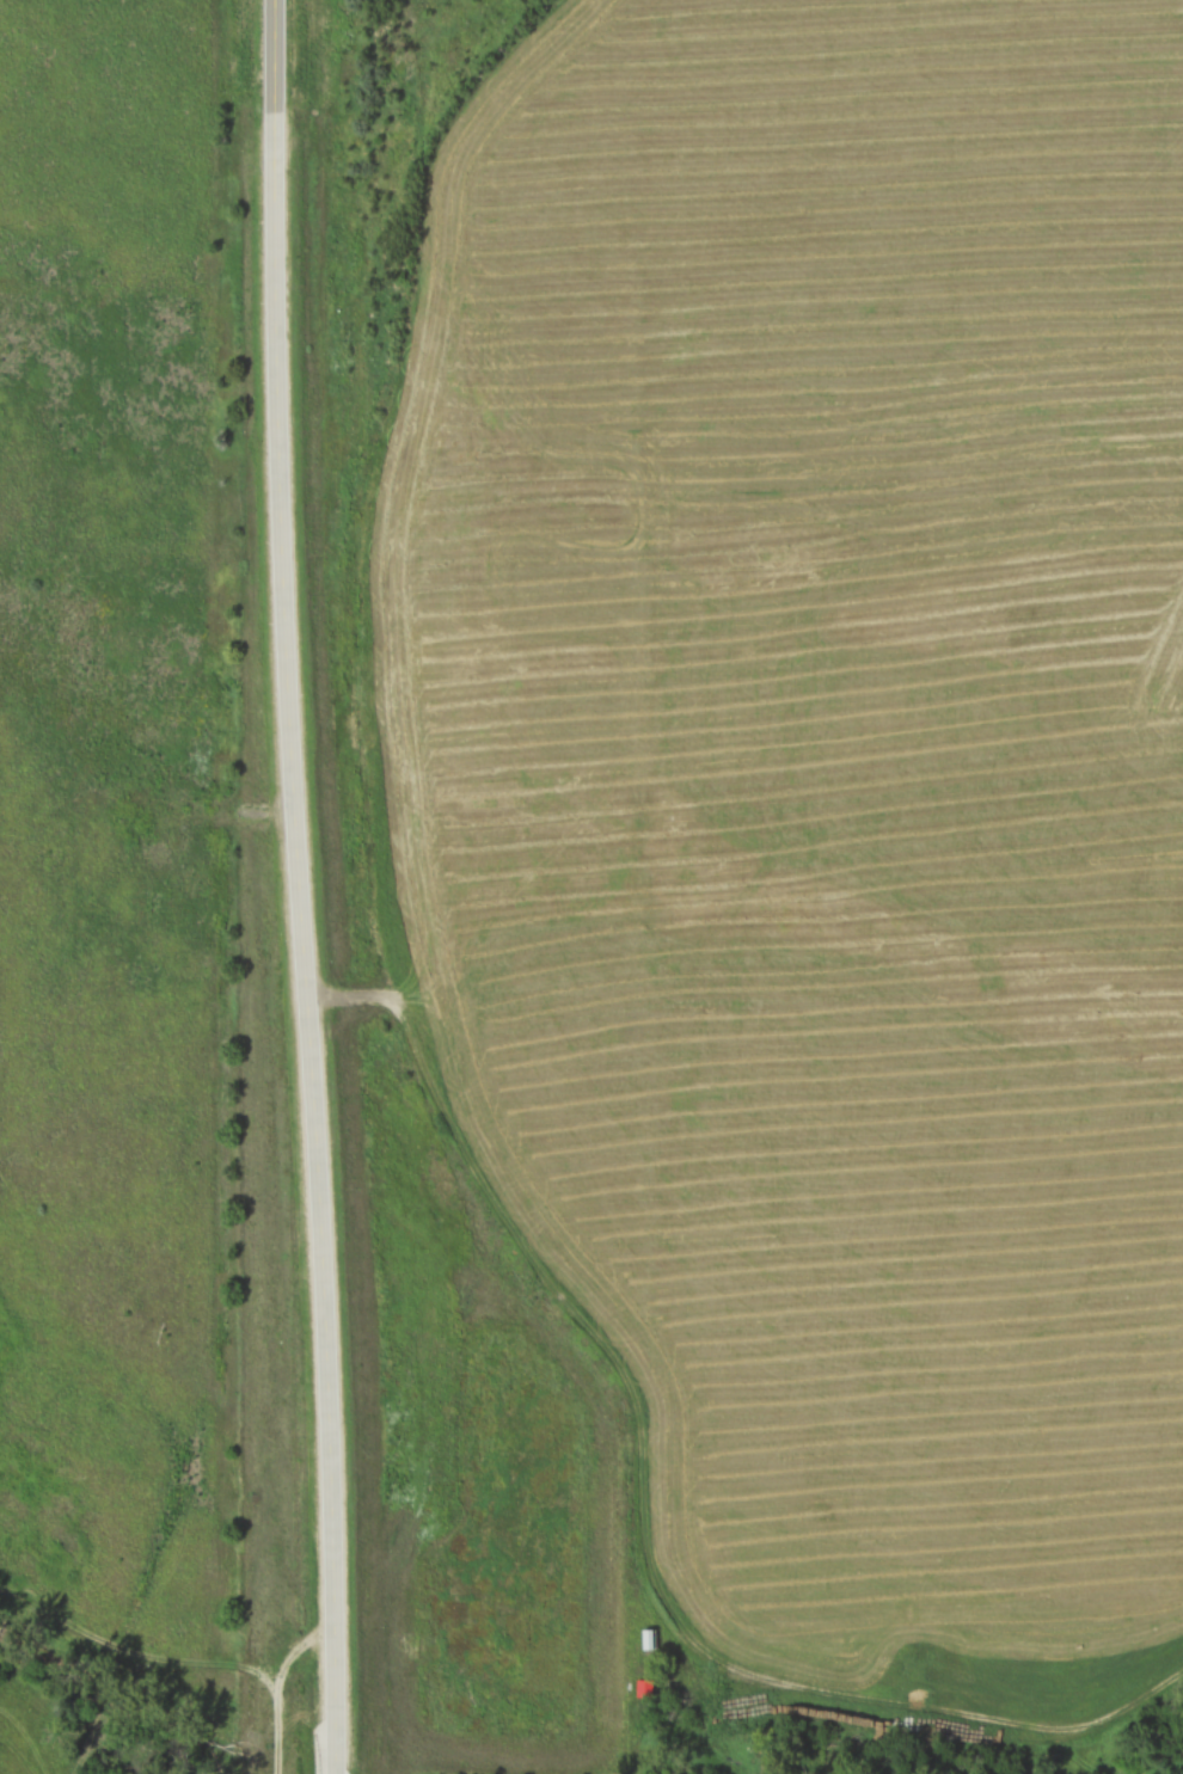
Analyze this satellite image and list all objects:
road: (293, 886)

